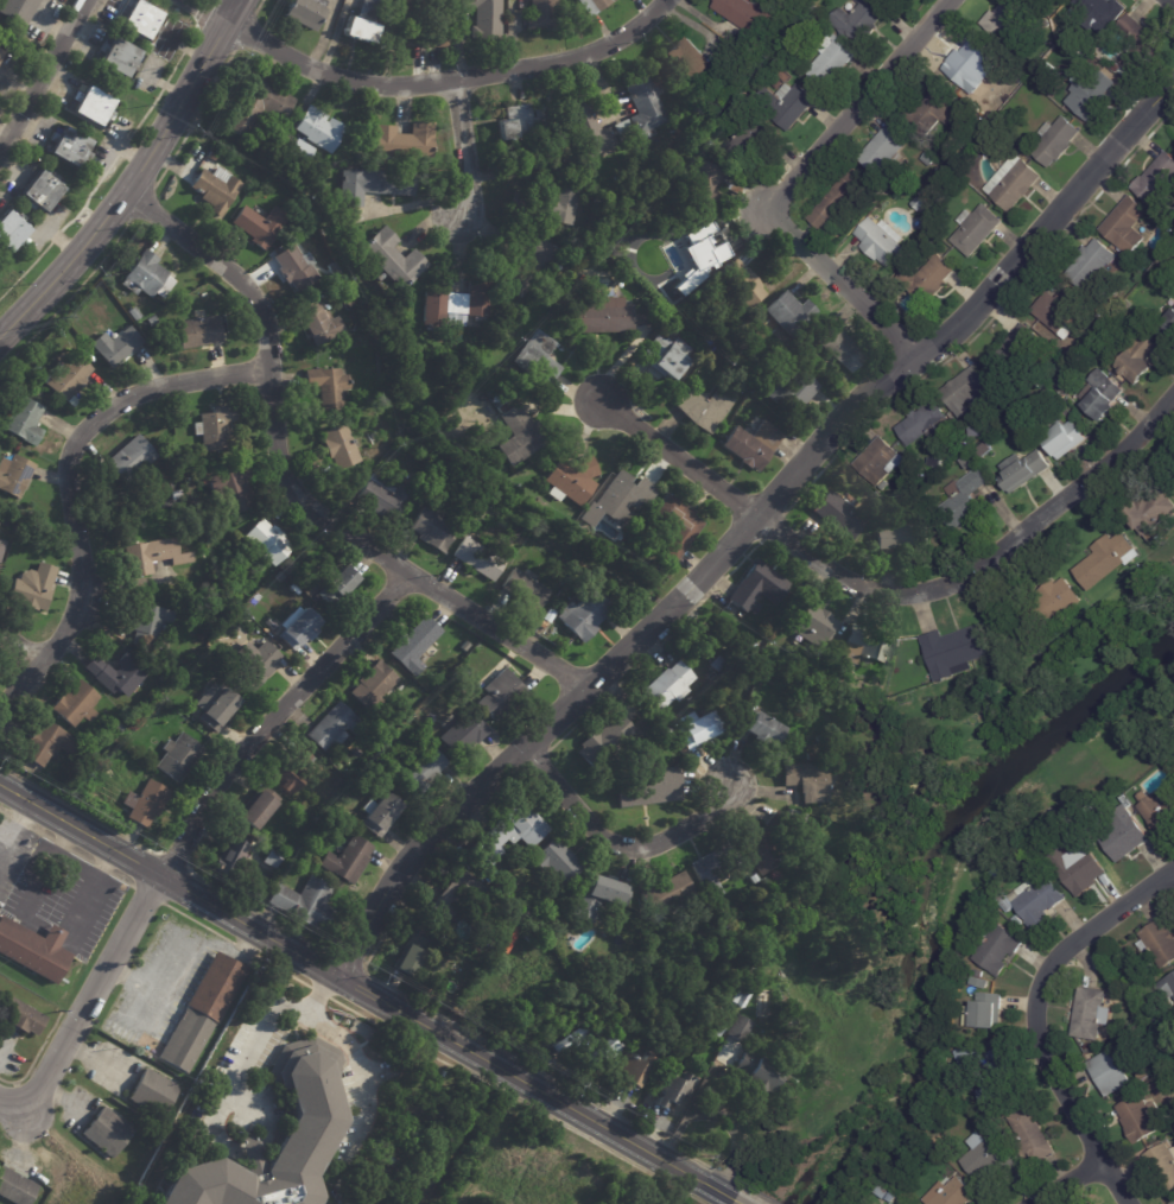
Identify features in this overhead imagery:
road: (1168, 4)
building: (592, 5)
road: (258, 6)
building: (368, 6)
building: (18, 9)
road: (209, 11)
road: (235, 11)
building: (304, 11)
building: (1096, 12)
road: (203, 14)
building: (541, 14)
building: (745, 15)
building: (484, 18)
building: (1004, 18)
building: (141, 19)
building: (858, 19)
building: (427, 23)
building: (358, 30)
road: (243, 31)
building: (793, 31)
building: (1140, 43)
building: (0, 50)
building: (0, 52)
building: (119, 56)
building: (831, 59)
building: (697, 64)
building: (966, 64)
building: (1116, 66)
building: (1048, 69)
building: (1091, 69)
building: (785, 75)
road: (43, 76)
building: (1018, 77)
road: (450, 82)
building: (1093, 95)
building: (643, 101)
building: (785, 103)
building: (95, 106)
building: (258, 106)
road: (856, 108)
building: (932, 109)
road: (195, 119)
building: (521, 121)
building: (588, 127)
building: (317, 128)
building: (622, 129)
building: (745, 139)
building: (402, 140)
building: (1049, 140)
building: (71, 147)
building: (883, 148)
building: (300, 150)
road: (461, 150)
building: (361, 156)
building: (212, 157)
building: (927, 158)
road: (106, 170)
building: (1156, 179)
building: (1008, 180)
building: (706, 183)
building: (373, 184)
building: (215, 188)
road: (127, 189)
building: (42, 191)
building: (878, 196)
building: (832, 199)
building: (912, 201)
road: (140, 204)
building: (546, 205)
building: (259, 223)
building: (1122, 224)
building: (970, 227)
building: (11, 230)
building: (876, 240)
building: (697, 245)
building: (393, 258)
building: (525, 264)
building: (1090, 264)
building: (294, 265)
building: (1167, 265)
building: (331, 270)
building: (147, 275)
building: (924, 277)
building: (738, 285)
road: (845, 291)
road: (66, 298)
building: (455, 304)
building: (1059, 311)
building: (789, 312)
building: (133, 313)
building: (601, 316)
building: (150, 321)
building: (318, 323)
building: (1167, 327)
building: (197, 332)
building: (1047, 336)
building: (114, 346)
building: (838, 346)
building: (665, 355)
building: (1021, 356)
building: (537, 359)
building: (1137, 360)
building: (34, 370)
building: (355, 370)
building: (65, 375)
building: (1059, 384)
building: (326, 386)
building: (966, 387)
building: (792, 391)
building: (1102, 394)
building: (500, 400)
building: (706, 405)
building: (24, 422)
building: (922, 422)
building: (215, 426)
building: (520, 433)
building: (1064, 439)
building: (751, 444)
building: (339, 446)
building: (984, 448)
building: (970, 452)
building: (129, 457)
road: (679, 457)
building: (876, 461)
building: (934, 462)
building: (1024, 470)
building: (13, 475)
building: (572, 477)
building: (840, 482)
building: (189, 484)
road: (291, 484)
road: (71, 488)
building: (233, 488)
building: (118, 494)
building: (174, 495)
building: (622, 496)
building: (382, 498)
building: (963, 499)
building: (1149, 508)
building: (839, 514)
building: (463, 522)
building: (675, 525)
road: (748, 526)
building: (430, 528)
building: (900, 534)
building: (267, 541)
building: (1, 544)
building: (153, 556)
building: (477, 558)
building: (1106, 560)
road: (981, 564)
building: (31, 587)
building: (336, 587)
building: (757, 587)
building: (525, 590)
building: (1051, 602)
building: (548, 615)
building: (585, 615)
building: (243, 621)
building: (812, 623)
building: (542, 625)
building: (273, 626)
building: (297, 627)
building: (150, 628)
road: (20, 645)
building: (414, 645)
building: (865, 646)
building: (954, 651)
building: (258, 664)
building: (716, 664)
building: (122, 673)
building: (459, 673)
building: (163, 679)
building: (373, 684)
building: (667, 685)
building: (500, 696)
building: (950, 696)
building: (1017, 702)
building: (74, 704)
building: (214, 704)
building: (844, 725)
building: (332, 727)
building: (119, 728)
building: (696, 729)
building: (756, 730)
building: (463, 735)
building: (603, 737)
building: (46, 743)
building: (813, 756)
building: (80, 758)
building: (177, 758)
building: (374, 768)
building: (421, 769)
building: (290, 771)
building: (388, 777)
building: (811, 780)
building: (647, 786)
building: (78, 791)
building: (144, 803)
building: (1092, 807)
building: (258, 809)
road: (4, 811)
building: (1159, 811)
building: (379, 815)
building: (795, 816)
road: (18, 819)
road: (15, 829)
road: (42, 832)
building: (1125, 835)
road: (188, 837)
building: (507, 837)
road: (61, 843)
road: (618, 844)
building: (299, 850)
building: (763, 850)
road: (81, 854)
building: (227, 858)
building: (271, 858)
building: (347, 861)
building: (557, 862)
road: (78, 864)
road: (101, 866)
building: (1078, 867)
building: (713, 869)
road: (47, 870)
road: (121, 877)
building: (753, 877)
building: (764, 881)
road: (91, 888)
road: (148, 893)
building: (461, 896)
building: (666, 896)
building: (256, 898)
building: (598, 898)
building: (1037, 901)
building: (304, 904)
building: (1008, 904)
road: (199, 923)
building: (1020, 923)
building: (514, 933)
road: (1096, 933)
road: (179, 940)
building: (1159, 944)
building: (998, 948)
road: (245, 949)
building: (34, 950)
building: (412, 953)
building: (66, 969)
road: (283, 971)
building: (979, 982)
building: (216, 986)
building: (1168, 989)
road: (319, 991)
road: (367, 991)
building: (741, 997)
building: (764, 1003)
road: (144, 1007)
building: (984, 1014)
building: (1089, 1015)
building: (20, 1016)
building: (717, 1029)
building: (741, 1029)
building: (185, 1039)
building: (567, 1045)
building: (1105, 1046)
road: (6, 1047)
building: (1168, 1052)
road: (249, 1053)
road: (350, 1053)
building: (601, 1054)
road: (34, 1056)
building: (969, 1058)
road: (96, 1060)
building: (1162, 1065)
building: (633, 1072)
building: (1146, 1073)
building: (1108, 1075)
building: (762, 1078)
building: (997, 1078)
building: (1151, 1086)
building: (673, 1090)
building: (153, 1091)
road: (518, 1098)
road: (245, 1102)
road: (1073, 1109)
road: (722, 1114)
building: (1138, 1120)
building: (310, 1127)
building: (106, 1132)
building: (1030, 1135)
building: (392, 1161)
building: (988, 1164)
building: (1162, 1168)
road: (1065, 1181)
building: (15, 1186)
building: (950, 1193)
building: (886, 1196)
building: (1173, 1200)
road: (738, 1202)
building: (1173, 1203)

